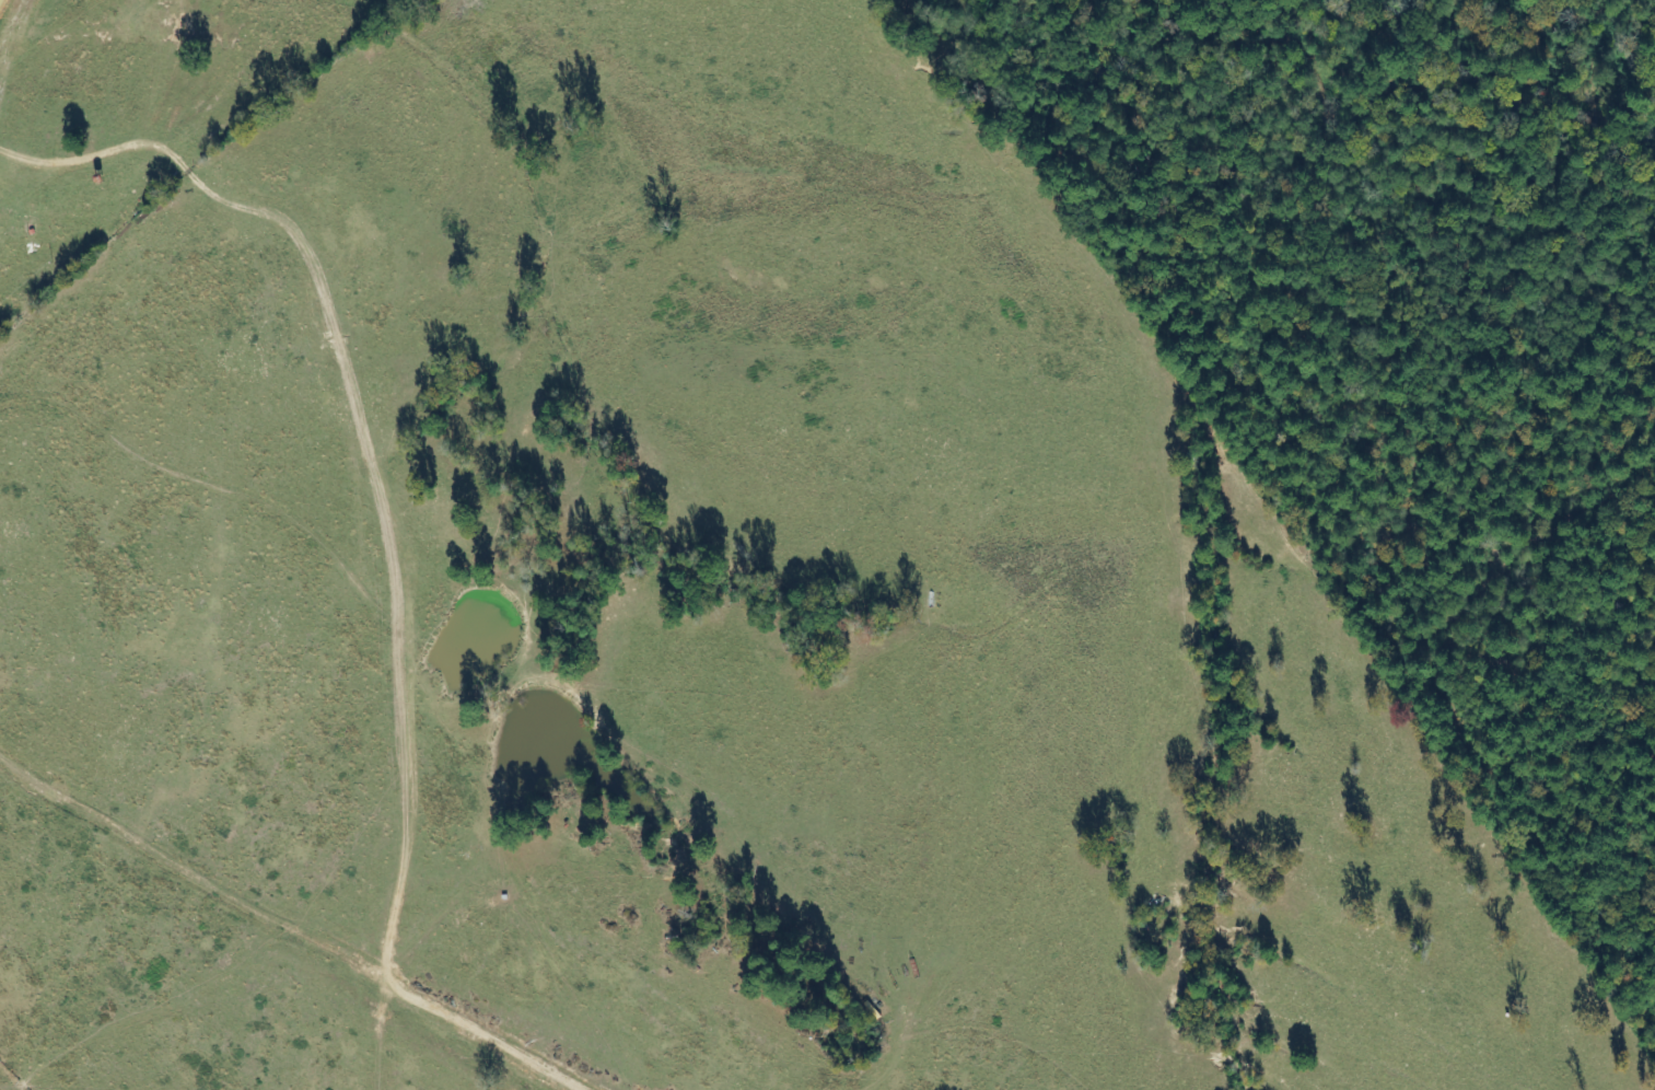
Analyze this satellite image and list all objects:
road: (293, 916)

